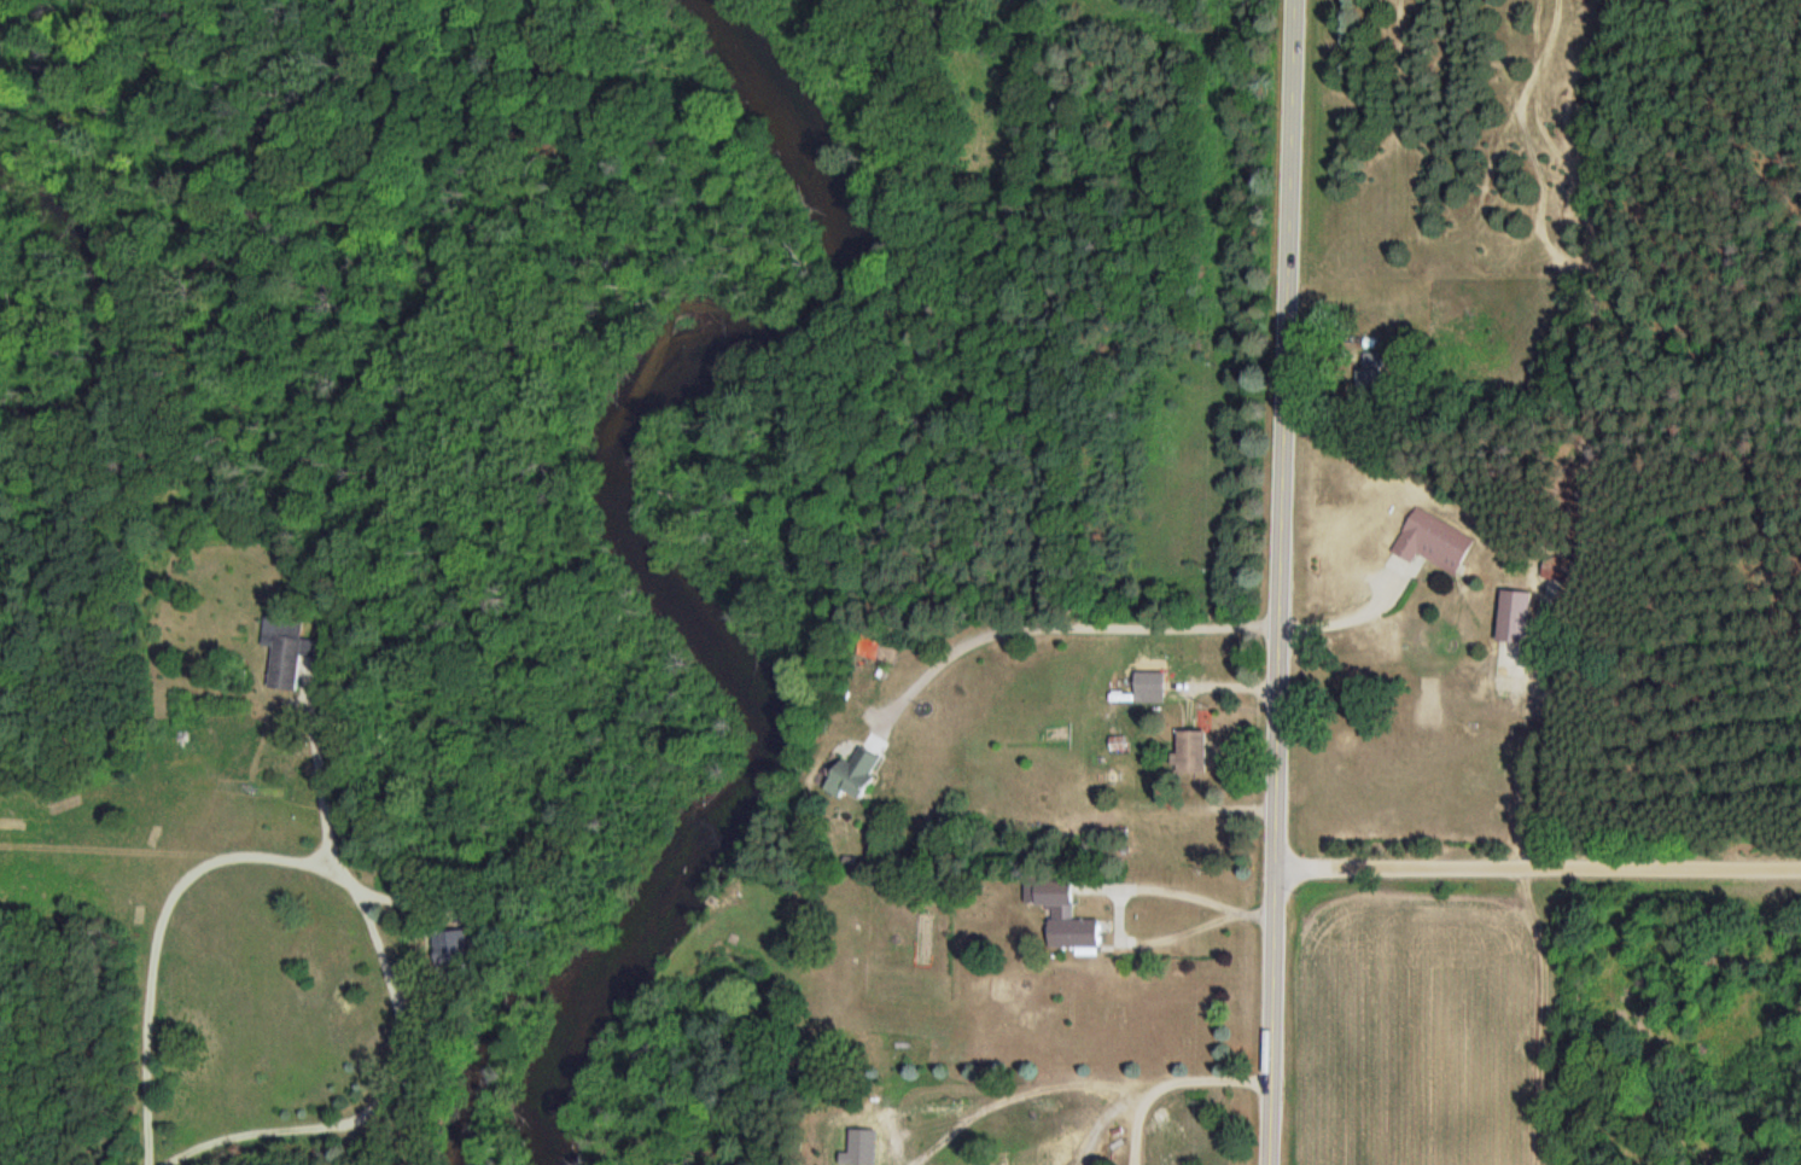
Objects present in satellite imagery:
building: (1432, 541)
river: (640, 546)
road: (1277, 582)
building: (1514, 616)
road: (1350, 617)
road: (1051, 627)
building: (286, 663)
building: (1191, 752)
road: (319, 761)
building: (853, 777)
building: (1121, 779)
road: (1535, 867)
road: (356, 885)
road: (1119, 899)
building: (1063, 915)
building: (449, 948)
road: (1170, 1080)
road: (150, 1161)

